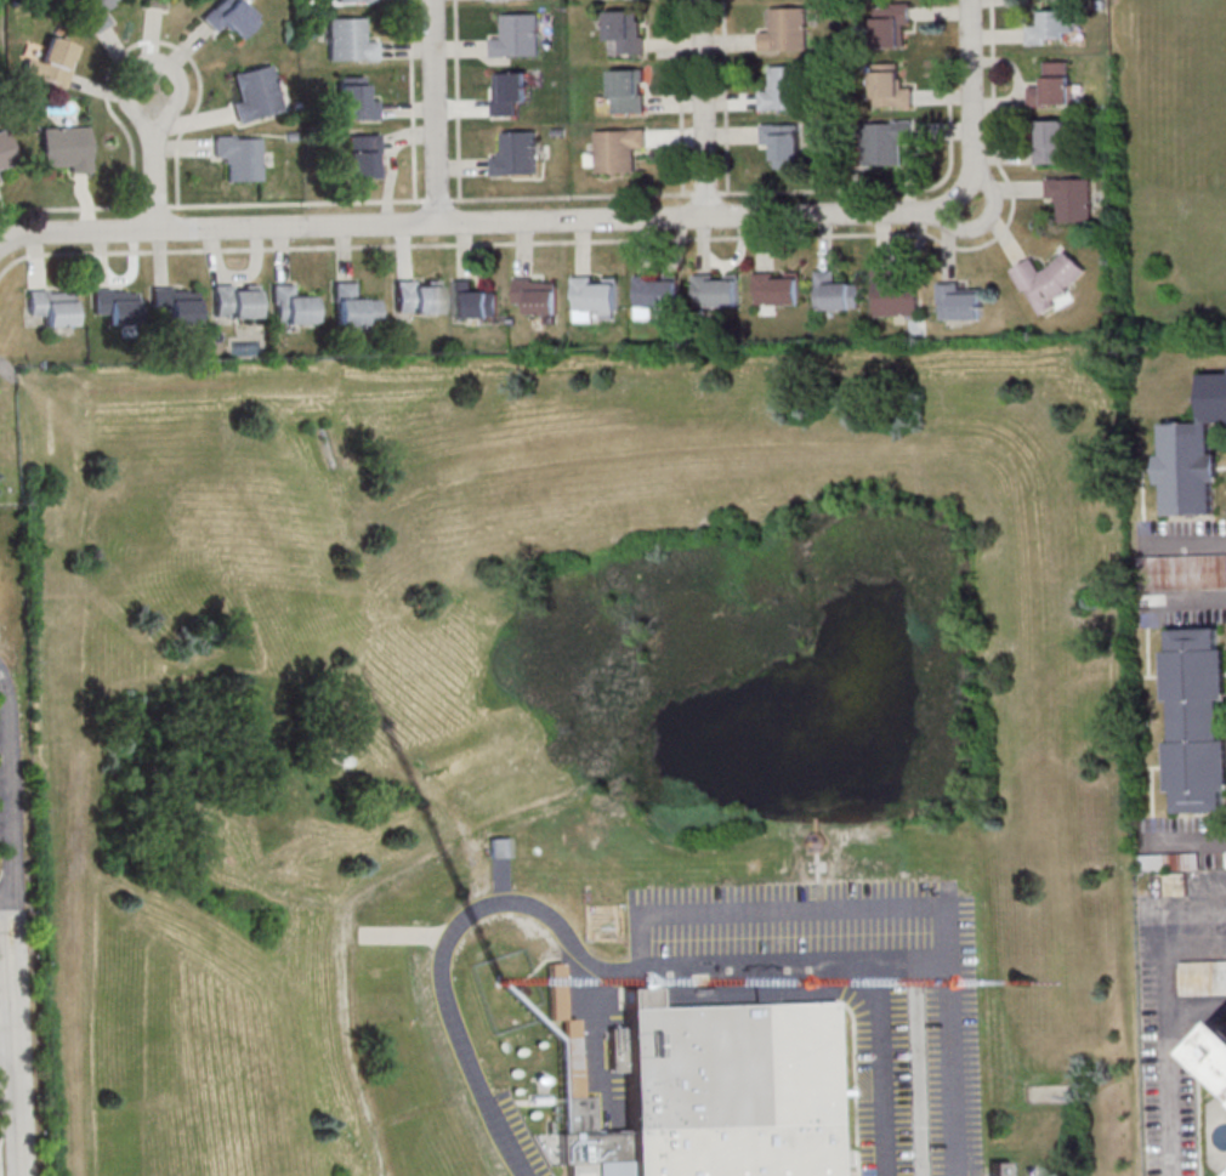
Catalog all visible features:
building: (354, 0)
building: (155, 4)
building: (95, 12)
building: (231, 17)
building: (892, 24)
building: (1051, 27)
building: (785, 30)
building: (625, 32)
building: (517, 35)
building: (347, 39)
building: (52, 62)
building: (1054, 84)
building: (891, 86)
road: (180, 89)
building: (784, 89)
building: (509, 91)
building: (629, 91)
building: (256, 93)
road: (455, 100)
road: (970, 100)
building: (358, 102)
road: (703, 108)
road: (435, 112)
building: (886, 141)
building: (1051, 141)
building: (784, 143)
building: (6, 149)
building: (64, 149)
building: (615, 150)
building: (517, 154)
building: (363, 155)
building: (238, 157)
building: (1072, 198)
road: (475, 199)
road: (983, 222)
road: (479, 223)
road: (464, 244)
building: (1051, 279)
building: (778, 289)
building: (657, 291)
building: (717, 291)
building: (836, 292)
building: (539, 295)
building: (596, 295)
building: (897, 295)
building: (416, 297)
building: (960, 300)
building: (235, 301)
building: (475, 301)
building: (117, 305)
building: (174, 305)
building: (293, 306)
building: (354, 306)
building: (50, 308)
road: (6, 371)
building: (1192, 455)
building: (1181, 572)
building: (1196, 720)
road: (7, 790)
road: (5, 901)
road: (926, 903)
road: (460, 922)
road: (790, 966)
building: (556, 992)
road: (1196, 1005)
road: (1167, 1029)
road: (15, 1038)
road: (7, 1044)
building: (1219, 1051)
road: (884, 1070)
building: (716, 1085)
building: (999, 1169)

